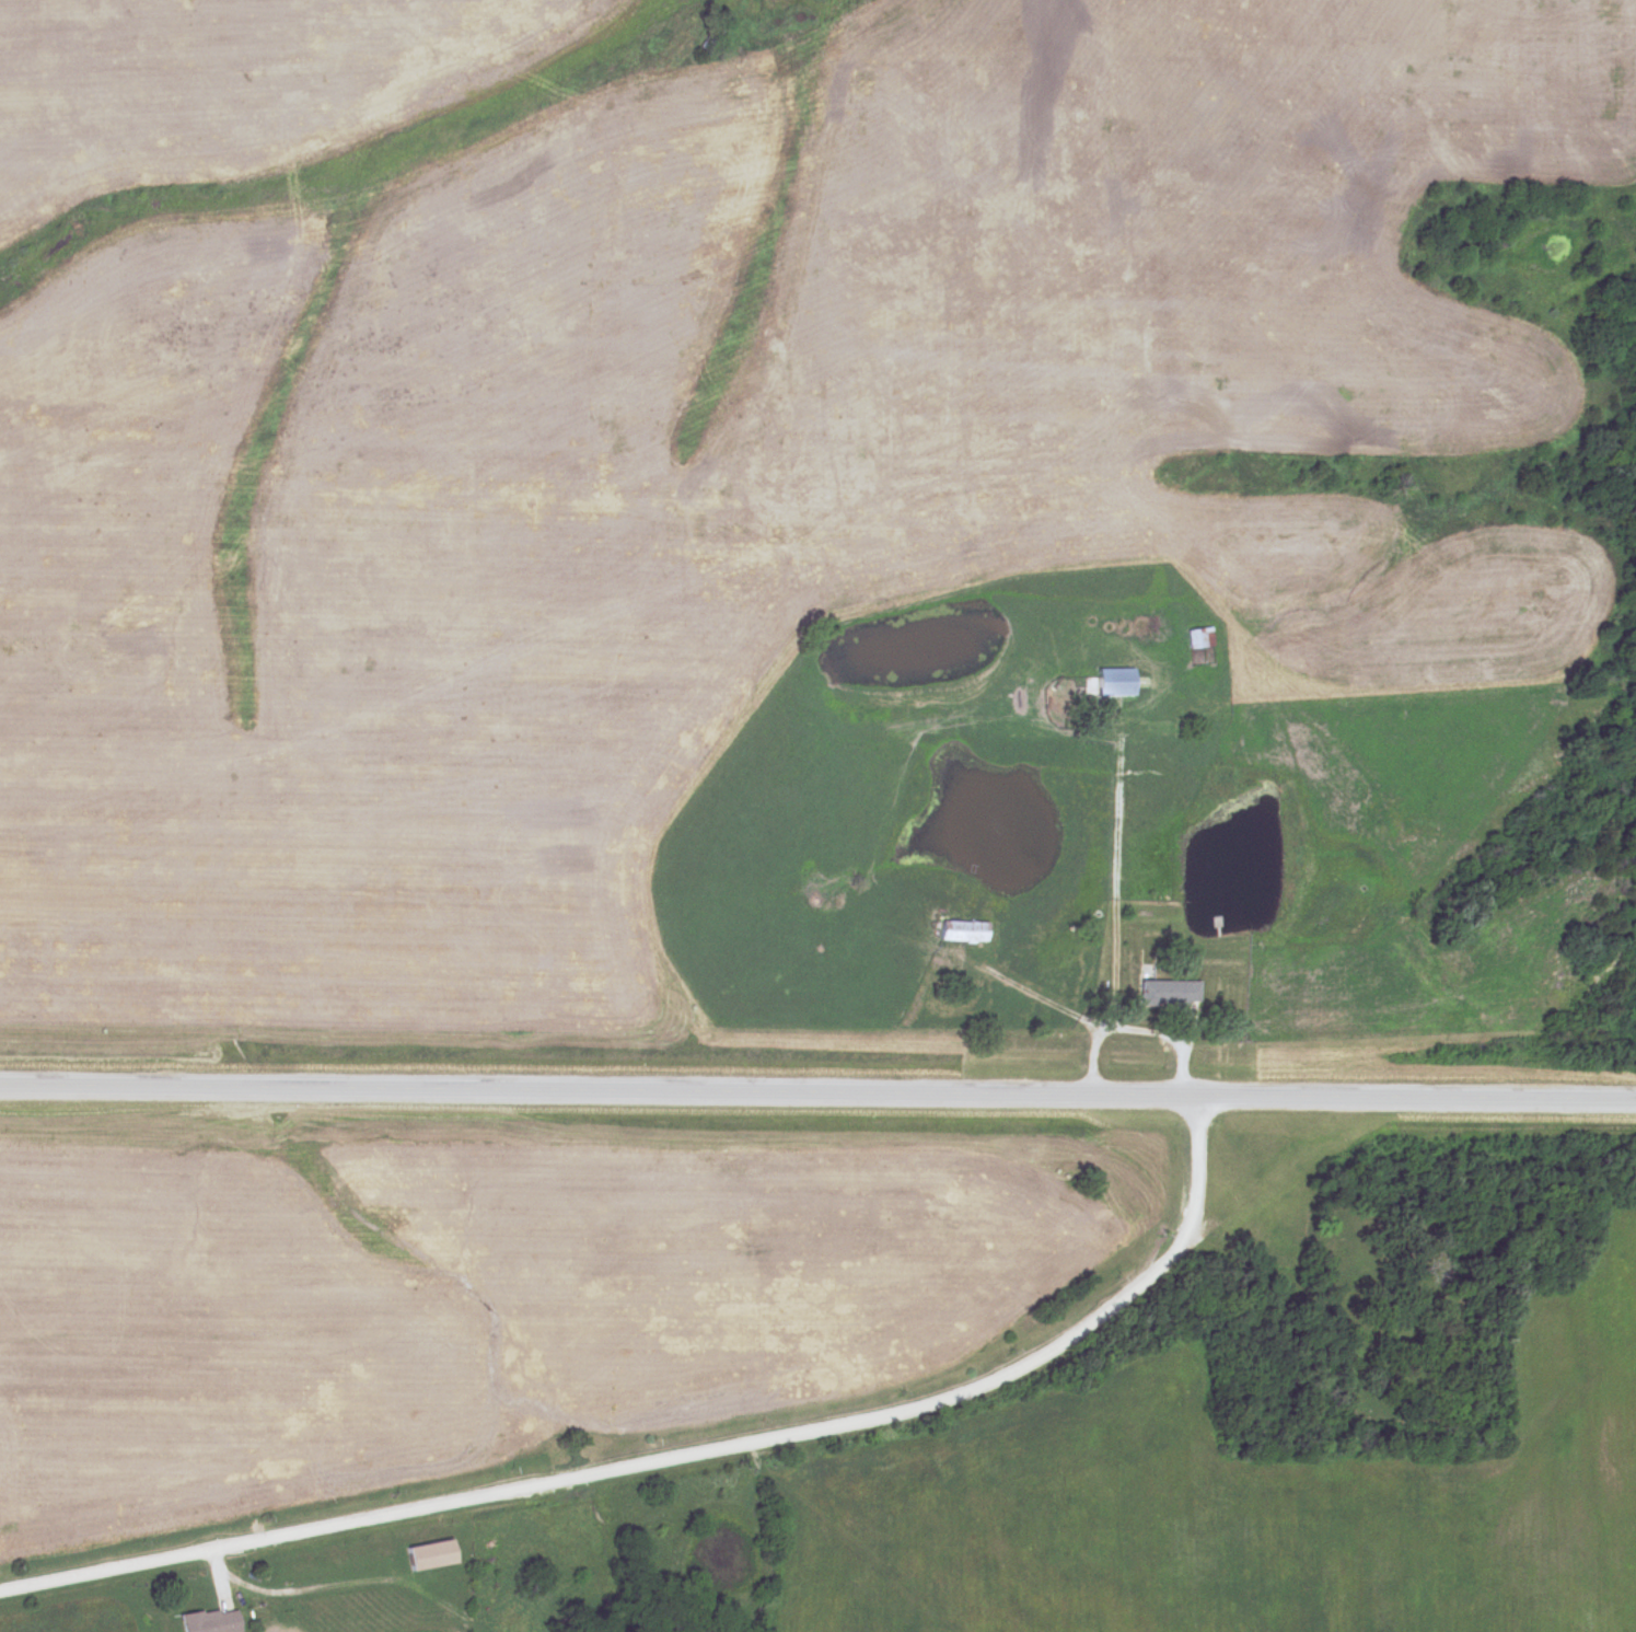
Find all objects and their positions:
building: (707, 47)
park: (1610, 606)
building: (1200, 638)
building: (1102, 687)
road: (1117, 903)
building: (964, 931)
building: (1170, 993)
road: (1169, 1029)
road: (817, 1092)
park: (1393, 1369)
road: (692, 1456)
building: (432, 1555)
building: (210, 1621)

